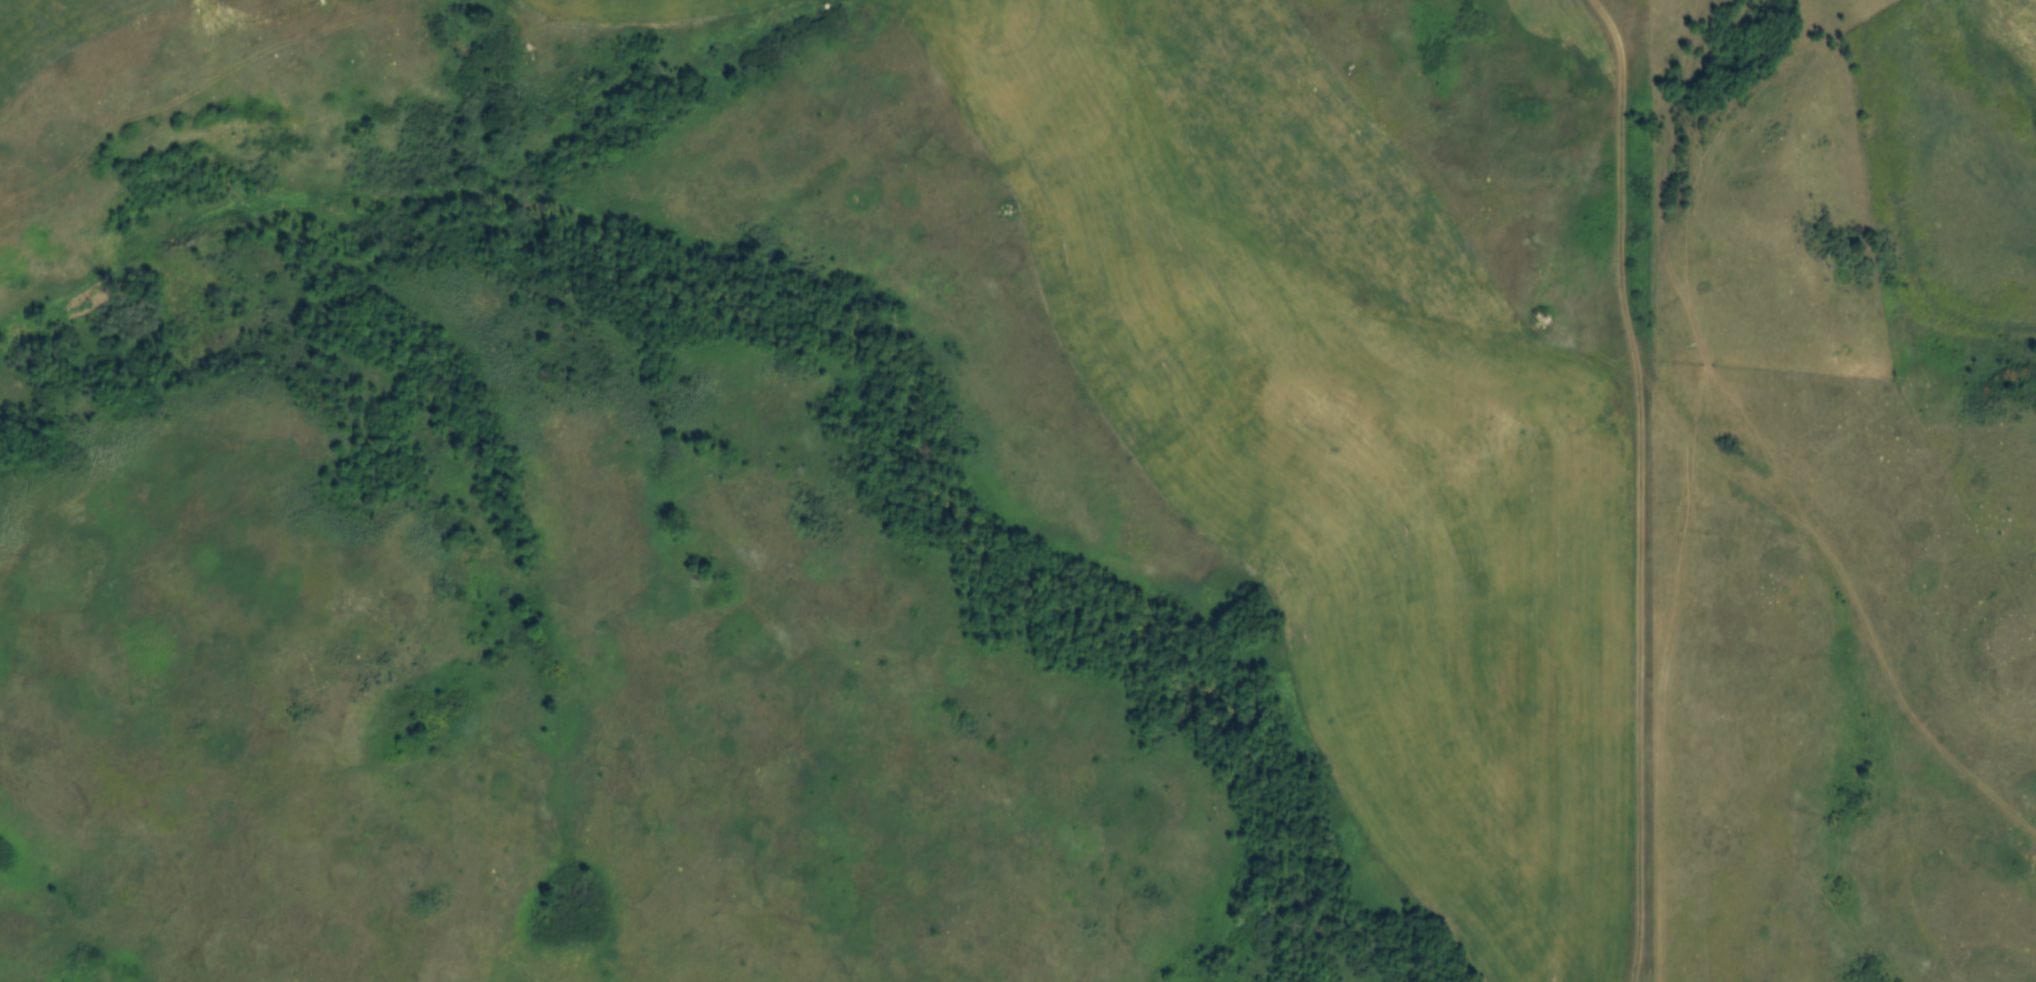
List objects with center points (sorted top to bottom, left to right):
road: (1648, 484)
road: (1850, 597)

